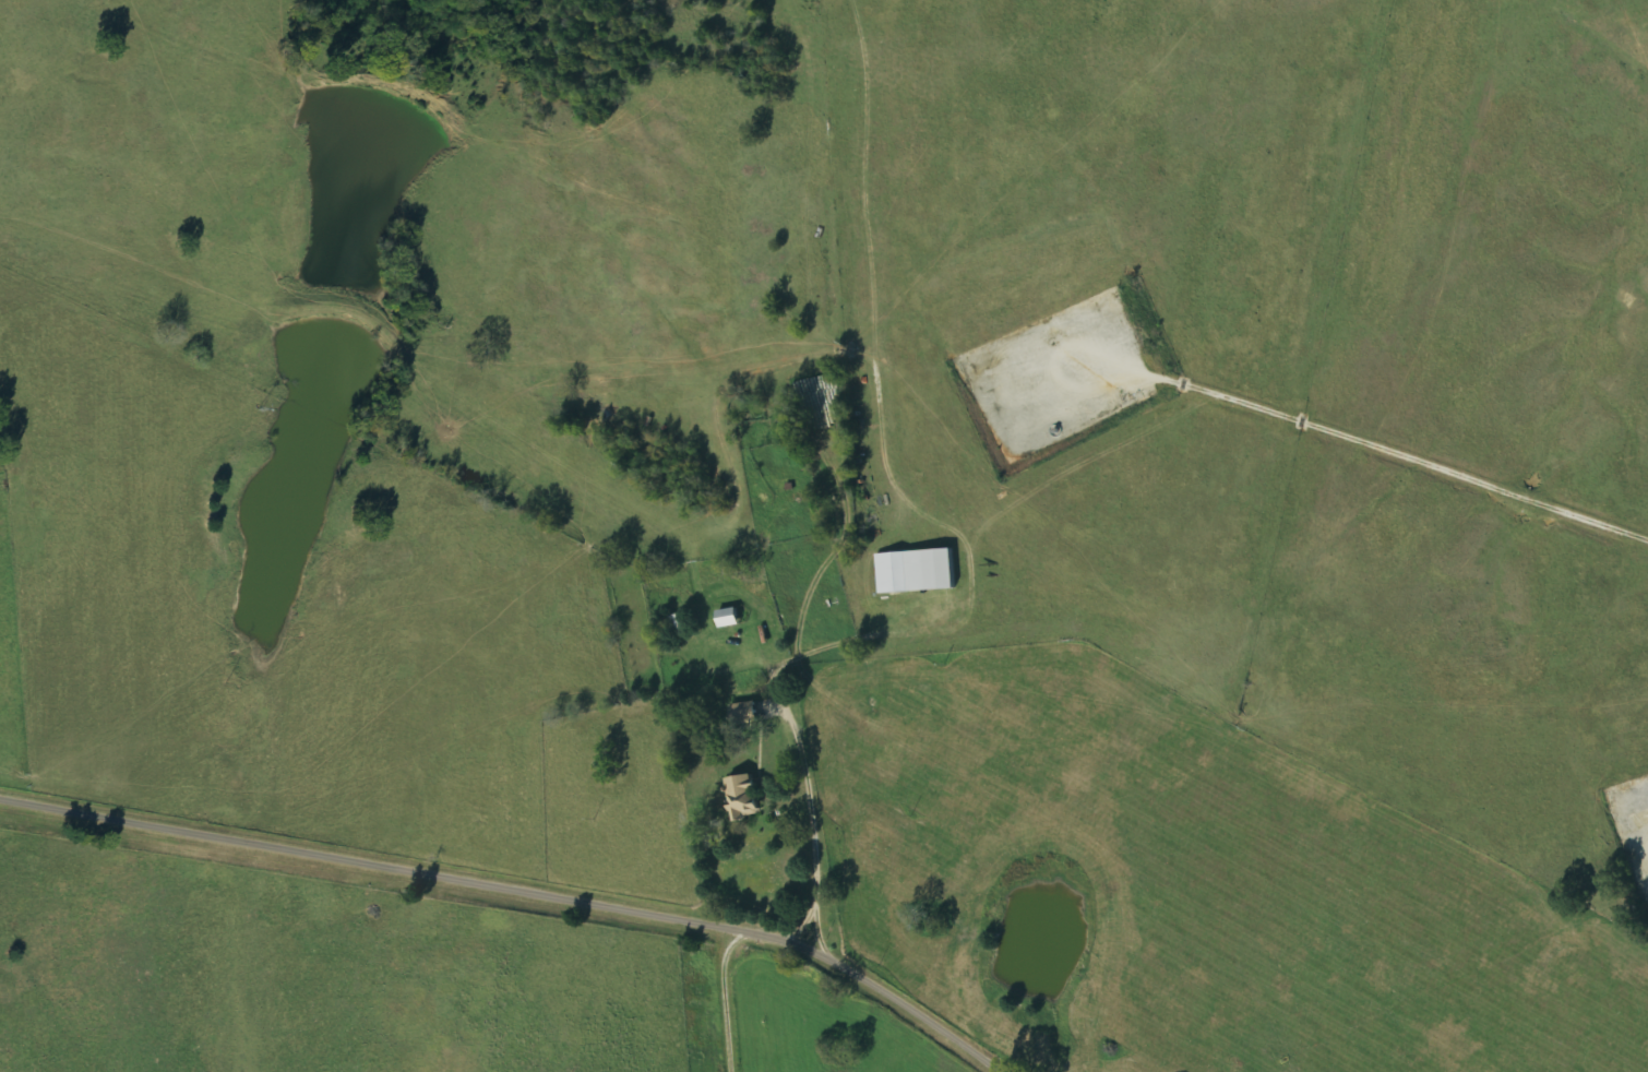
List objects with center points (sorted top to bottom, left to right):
dam: (393, 90)
dam: (343, 314)
building: (917, 571)
building: (730, 618)
building: (678, 626)
building: (747, 713)
building: (745, 798)
road: (515, 891)

